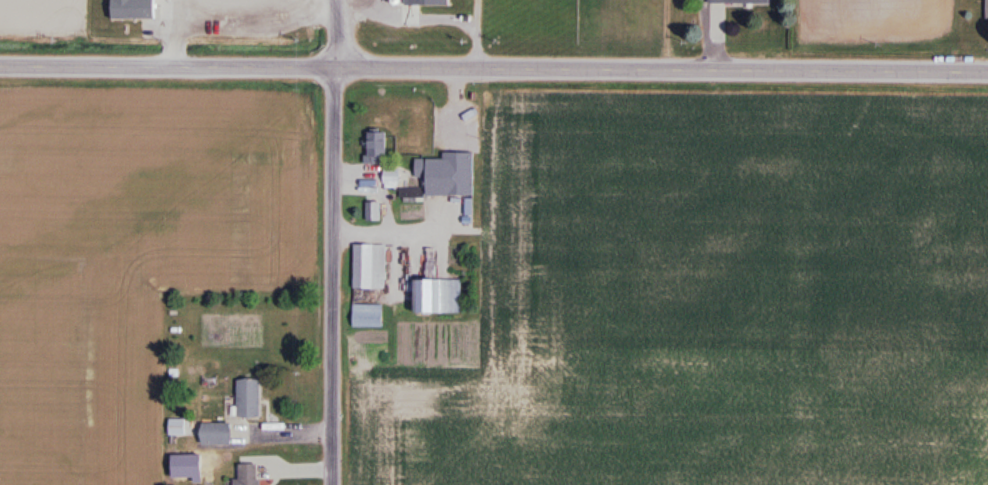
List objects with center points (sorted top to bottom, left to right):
building: (427, 2)
building: (739, 2)
building: (134, 9)
building: (987, 10)
road: (332, 30)
road: (700, 32)
road: (472, 40)
road: (494, 62)
building: (376, 149)
building: (448, 175)
building: (392, 179)
building: (373, 209)
building: (414, 213)
building: (370, 267)
road: (332, 273)
building: (438, 297)
building: (368, 316)
building: (249, 399)
building: (216, 434)
building: (249, 474)

